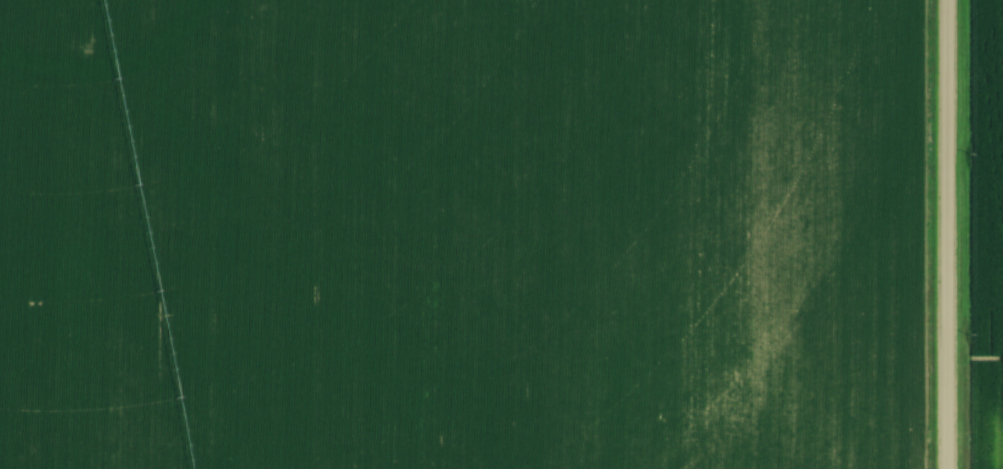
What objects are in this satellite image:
road: (941, 234)

